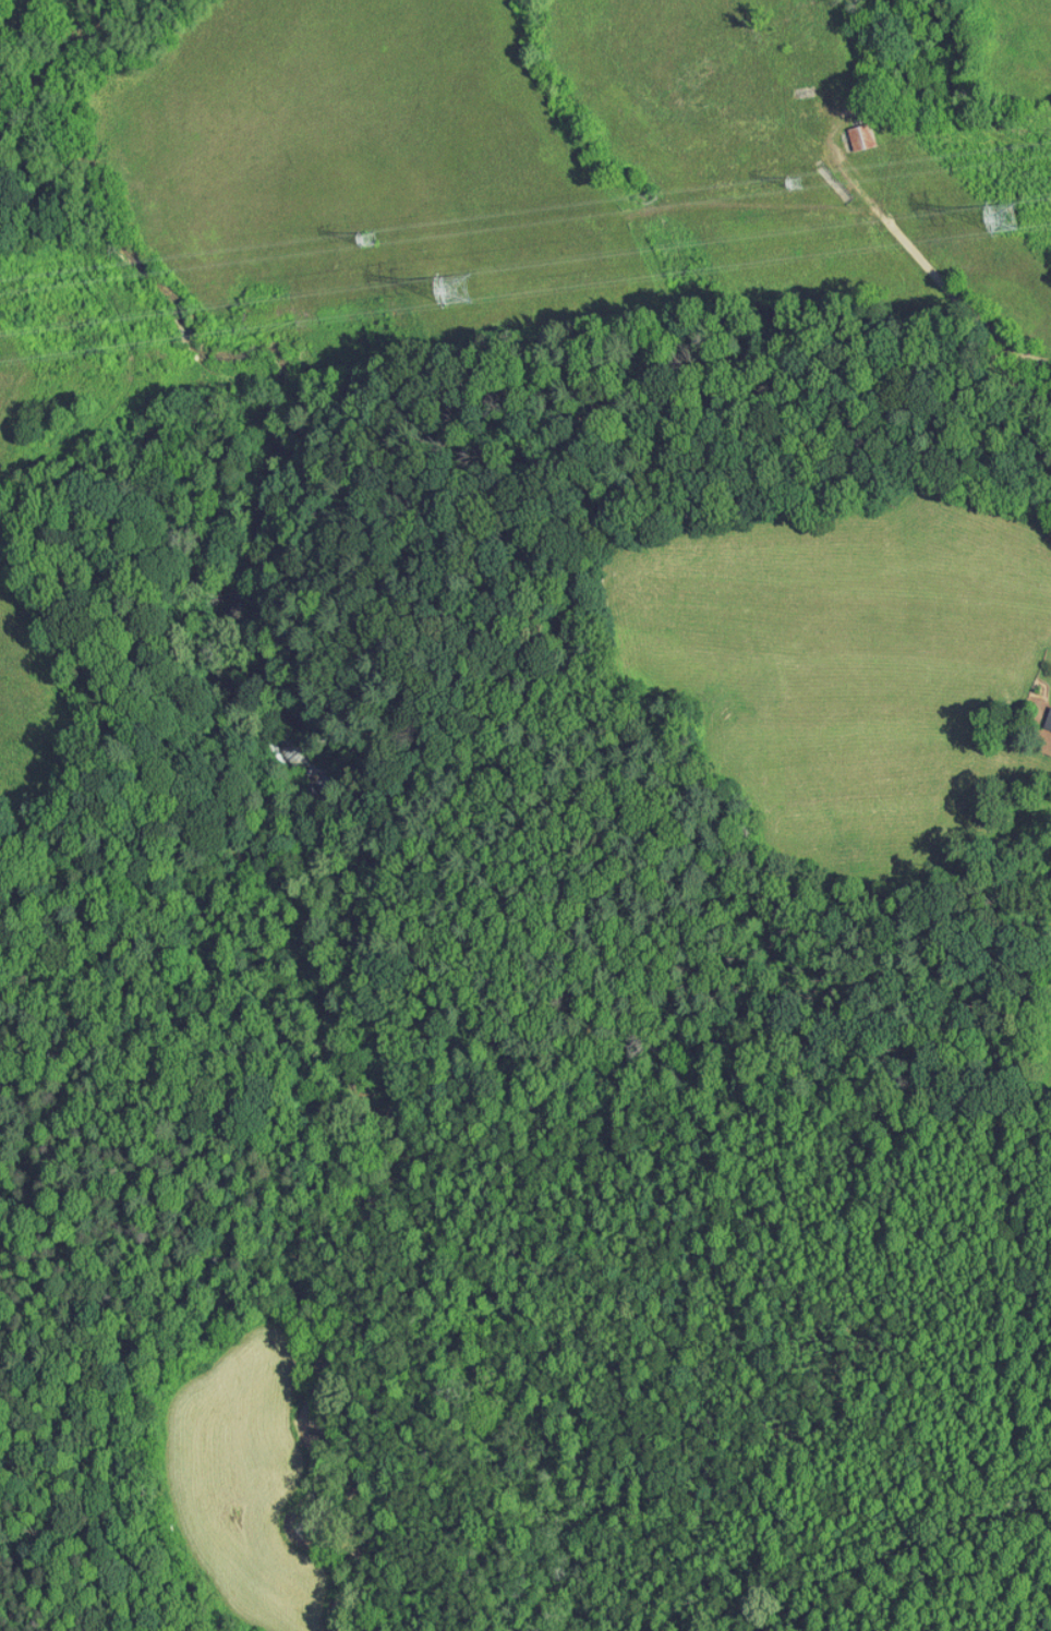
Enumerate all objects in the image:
building: (847, 129)
power tower: (808, 188)
power tower: (378, 240)
power tower: (478, 289)
building: (1041, 712)

